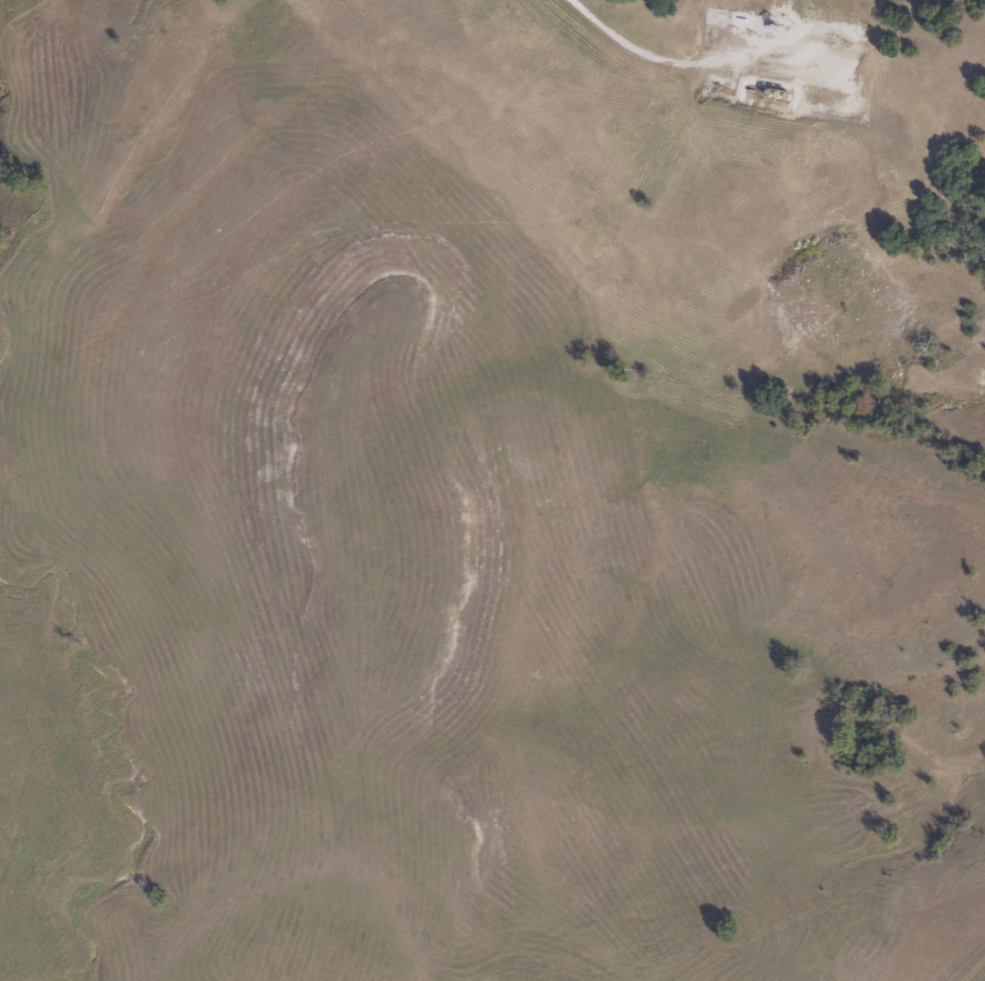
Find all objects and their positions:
road: (665, 74)

